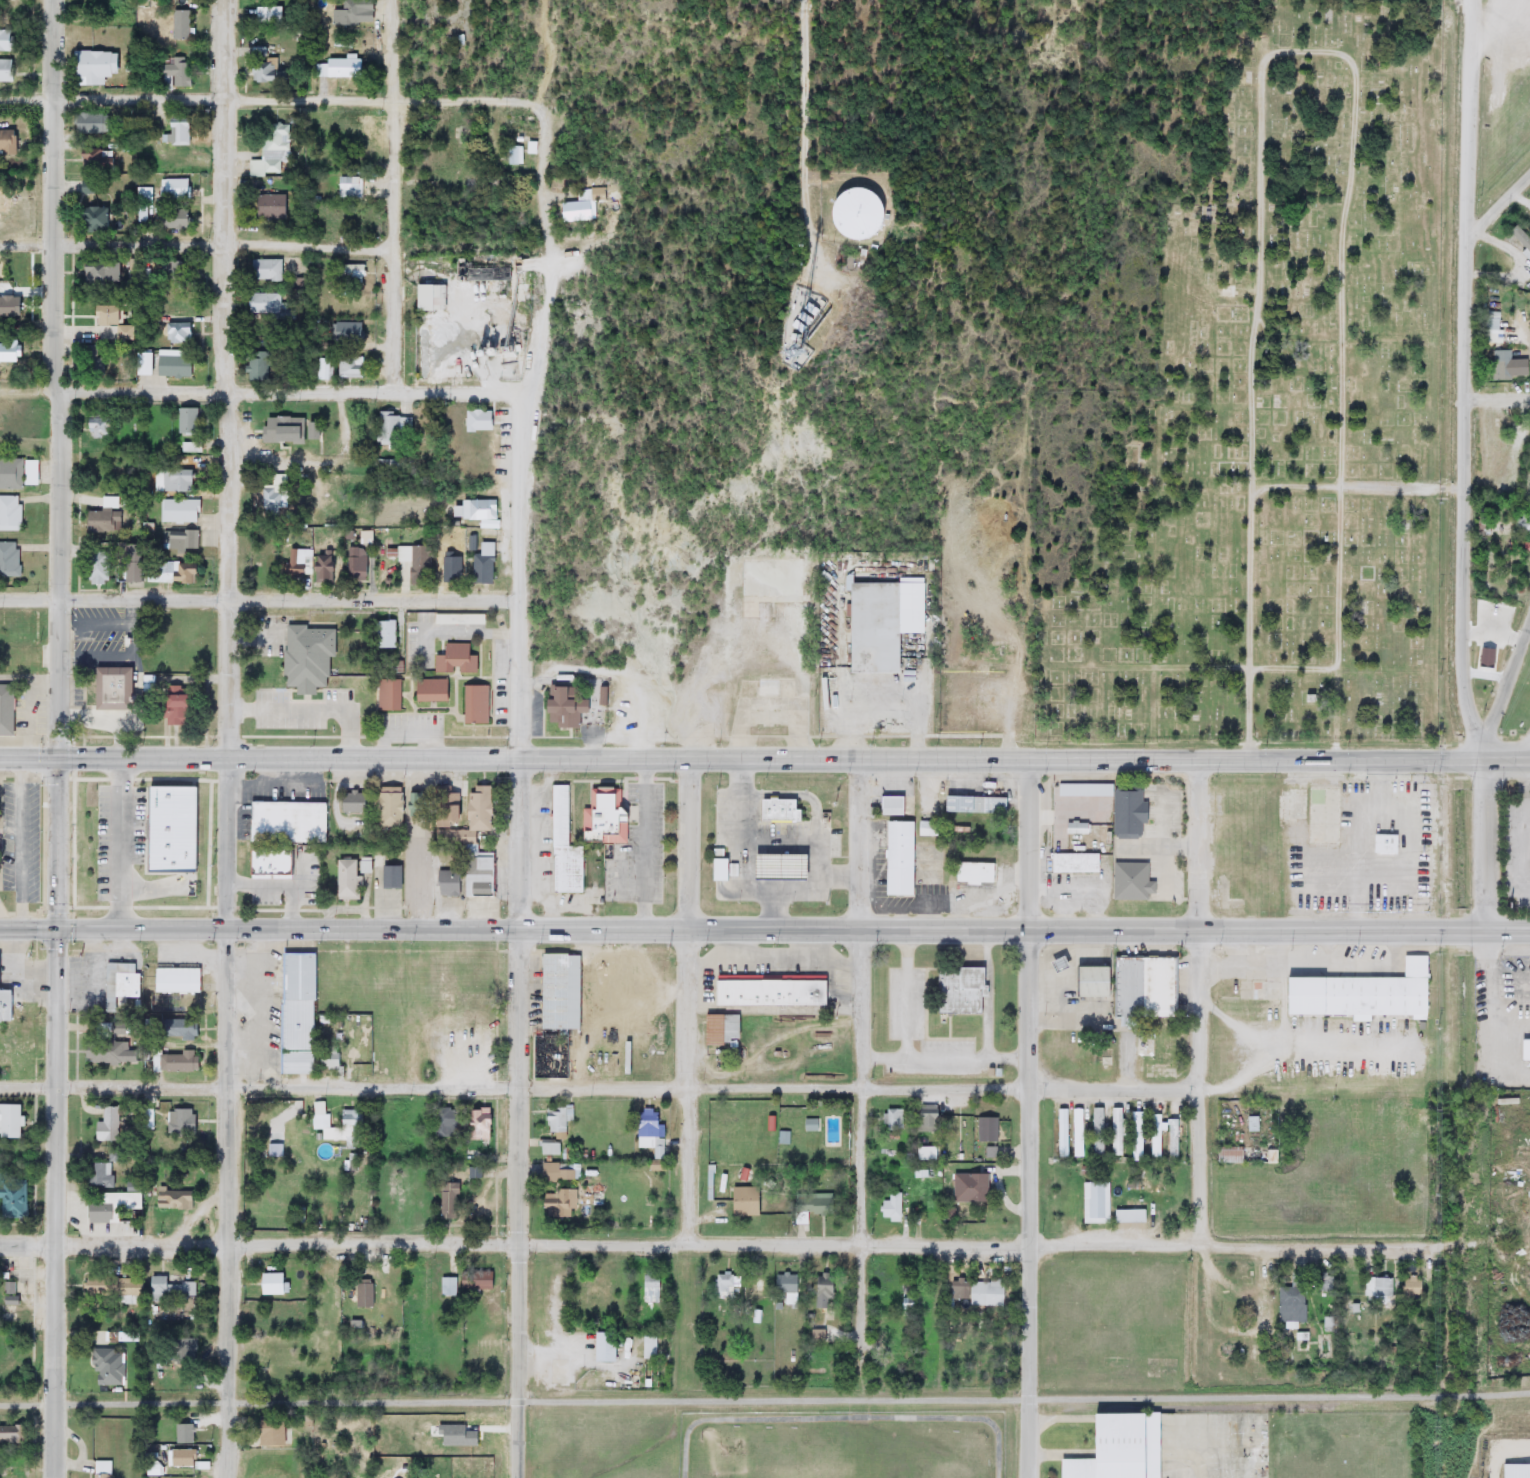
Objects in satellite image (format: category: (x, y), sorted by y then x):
road: (1501, 6)
building: (346, 12)
building: (266, 15)
building: (179, 26)
building: (91, 66)
building: (341, 69)
building: (4, 71)
building: (264, 71)
building: (173, 74)
road: (271, 100)
road: (807, 126)
building: (175, 131)
building: (5, 141)
building: (93, 159)
building: (269, 159)
building: (86, 187)
building: (349, 188)
building: (173, 190)
road: (395, 192)
building: (5, 199)
road: (1499, 201)
building: (142, 203)
building: (268, 206)
storage tank: (834, 215)
building: (836, 217)
building: (88, 219)
building: (170, 219)
road: (274, 245)
building: (824, 264)
building: (175, 269)
building: (264, 270)
building: (99, 273)
building: (349, 273)
road: (54, 298)
building: (427, 298)
building: (170, 303)
building: (263, 305)
building: (7, 307)
building: (783, 313)
building: (110, 324)
building: (173, 333)
building: (352, 333)
building: (8, 352)
building: (89, 361)
building: (140, 365)
building: (170, 365)
building: (1502, 366)
building: (256, 367)
building: (348, 368)
road: (1467, 369)
building: (1526, 369)
road: (1251, 371)
road: (224, 379)
road: (292, 386)
road: (1342, 396)
road: (1498, 398)
park: (1272, 404)
building: (185, 421)
building: (475, 421)
building: (96, 423)
building: (287, 429)
building: (392, 429)
road: (521, 430)
building: (189, 447)
building: (184, 461)
building: (16, 473)
building: (175, 480)
road: (1358, 482)
building: (270, 499)
building: (476, 509)
building: (178, 510)
building: (9, 512)
building: (103, 516)
building: (1524, 531)
building: (179, 539)
building: (1519, 546)
building: (8, 559)
building: (415, 561)
building: (126, 562)
building: (354, 564)
building: (95, 567)
building: (320, 567)
building: (479, 567)
building: (181, 573)
building: (768, 579)
road: (291, 595)
road: (30, 596)
building: (457, 618)
building: (880, 621)
road: (472, 626)
building: (382, 634)
road: (254, 641)
building: (305, 657)
building: (454, 659)
road: (1247, 666)
building: (979, 670)
road: (60, 677)
road: (1506, 678)
building: (107, 688)
building: (429, 689)
building: (387, 695)
building: (474, 704)
building: (173, 705)
building: (558, 706)
building: (5, 710)
road: (316, 711)
road: (1153, 712)
building: (762, 718)
road: (1480, 746)
road: (794, 757)
road: (29, 758)
traffic signals: (59, 759)
road: (143, 772)
road: (802, 789)
building: (349, 802)
building: (414, 802)
building: (889, 805)
building: (973, 805)
building: (1114, 806)
building: (444, 807)
building: (782, 807)
building: (384, 809)
building: (608, 814)
building: (1320, 815)
building: (287, 822)
building: (178, 823)
road: (1528, 826)
building: (1074, 829)
parking lot: (122, 832)
road: (211, 837)
road: (775, 841)
road: (1481, 841)
road: (121, 842)
building: (472, 842)
building: (1383, 844)
building: (562, 848)
building: (896, 859)
building: (268, 862)
building: (1072, 863)
building: (786, 866)
gas station: (786, 866)
building: (717, 870)
building: (973, 873)
building: (106, 875)
road: (749, 875)
building: (390, 877)
building: (344, 879)
building: (1129, 882)
building: (446, 883)
road: (784, 890)
road: (149, 901)
road: (58, 921)
road: (765, 923)
traffic signals: (58, 924)
road: (773, 956)
building: (386, 975)
building: (175, 980)
building: (455, 981)
building: (1090, 981)
building: (115, 983)
building: (1144, 987)
building: (329, 989)
building: (957, 990)
building: (557, 991)
building: (766, 992)
road: (988, 992)
building: (1359, 994)
road: (1198, 1000)
road: (688, 1001)
building: (4, 1005)
building: (297, 1013)
road: (908, 1014)
building: (107, 1028)
building: (718, 1029)
building: (181, 1030)
building: (1525, 1050)
building: (109, 1053)
building: (356, 1055)
building: (328, 1057)
road: (969, 1058)
building: (175, 1062)
road: (864, 1063)
road: (27, 1083)
road: (684, 1086)
road: (1031, 1116)
road: (227, 1118)
road: (520, 1119)
building: (556, 1119)
building: (926, 1119)
building: (147, 1120)
building: (893, 1120)
building: (9, 1121)
building: (180, 1122)
building: (443, 1122)
building: (476, 1124)
building: (1250, 1124)
building: (107, 1125)
building: (338, 1126)
building: (986, 1129)
building: (647, 1130)
building: (1058, 1131)
building: (1116, 1131)
building: (1076, 1132)
building: (1097, 1132)
building: (1155, 1135)
building: (1172, 1138)
building: (1134, 1139)
building: (1228, 1155)
building: (559, 1173)
building: (100, 1175)
building: (969, 1188)
building: (11, 1198)
building: (171, 1200)
building: (447, 1201)
building: (742, 1201)
building: (551, 1203)
building: (108, 1205)
building: (809, 1206)
building: (1094, 1206)
building: (889, 1208)
road: (717, 1242)
road: (52, 1280)
building: (268, 1281)
building: (474, 1282)
building: (726, 1284)
building: (784, 1286)
building: (111, 1287)
building: (447, 1287)
building: (649, 1288)
building: (753, 1288)
building: (1377, 1288)
building: (170, 1289)
building: (979, 1291)
building: (362, 1293)
building: (820, 1293)
building: (1290, 1304)
building: (905, 1305)
building: (816, 1336)
building: (894, 1336)
building: (270, 1347)
building: (602, 1347)
building: (181, 1349)
building: (105, 1367)
road: (765, 1400)
building: (269, 1431)
building: (182, 1433)
building: (11, 1435)
building: (1115, 1448)
road: (1209, 1455)
building: (175, 1457)
building: (100, 1470)

